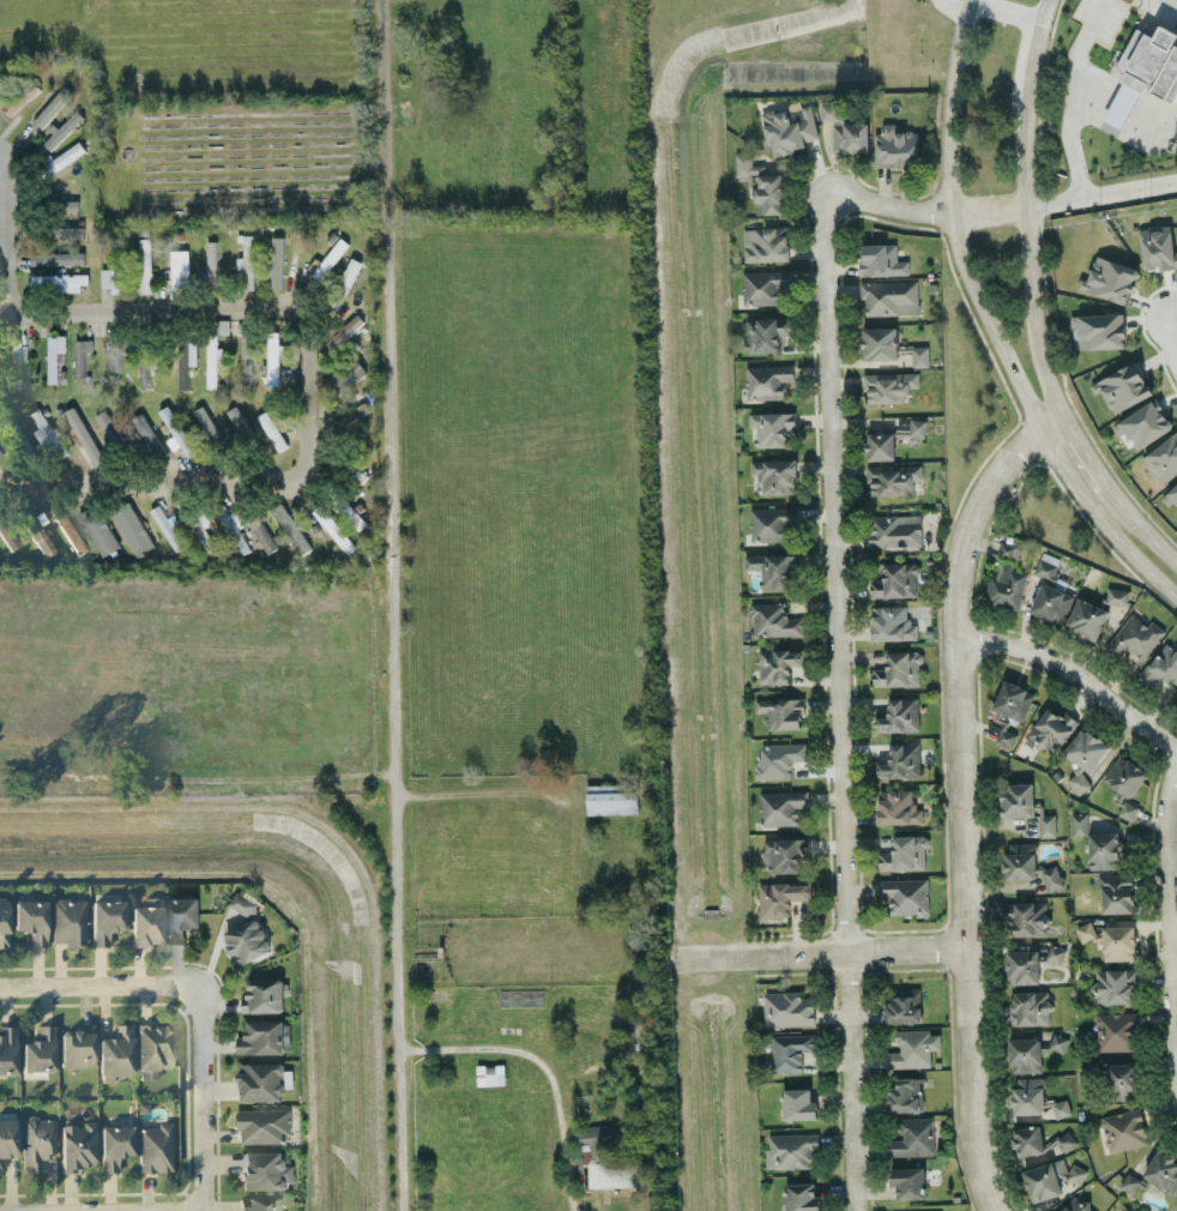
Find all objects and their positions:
road: (1172, 1)
road: (1004, 10)
road: (1044, 10)
road: (1031, 59)
building: (1145, 71)
road: (1094, 90)
road: (1121, 103)
building: (52, 107)
road: (1153, 119)
road: (1070, 121)
building: (845, 127)
building: (790, 128)
building: (62, 129)
building: (895, 145)
building: (65, 156)
building: (761, 185)
road: (1128, 187)
road: (11, 210)
building: (59, 231)
building: (766, 243)
building: (1157, 247)
building: (58, 258)
building: (330, 258)
building: (881, 259)
road: (1027, 259)
building: (247, 260)
building: (277, 261)
building: (211, 263)
building: (175, 264)
building: (145, 265)
building: (114, 267)
building: (348, 273)
building: (1110, 279)
building: (58, 281)
building: (763, 287)
building: (889, 296)
road: (990, 325)
building: (343, 330)
building: (1100, 331)
building: (765, 332)
road: (1175, 338)
building: (880, 342)
building: (117, 354)
building: (55, 355)
building: (82, 355)
building: (919, 355)
building: (14, 356)
building: (273, 357)
building: (212, 361)
building: (185, 362)
building: (149, 364)
building: (344, 375)
road: (312, 378)
building: (767, 380)
building: (889, 386)
building: (1122, 386)
building: (237, 420)
building: (1145, 423)
building: (772, 427)
building: (912, 428)
building: (272, 429)
building: (109, 430)
building: (47, 434)
building: (84, 434)
building: (17, 436)
building: (880, 441)
building: (1163, 458)
road: (1088, 459)
building: (774, 475)
building: (893, 478)
building: (1172, 494)
building: (772, 523)
building: (131, 526)
building: (167, 526)
building: (333, 528)
building: (98, 529)
building: (231, 529)
building: (894, 530)
building: (70, 532)
building: (38, 535)
road: (1147, 535)
building: (1007, 554)
building: (773, 568)
building: (895, 580)
building: (1006, 588)
building: (1050, 594)
building: (1117, 596)
road: (833, 602)
road: (393, 604)
building: (1086, 619)
building: (774, 620)
building: (892, 622)
building: (1134, 637)
building: (778, 664)
building: (1161, 665)
building: (899, 669)
road: (1073, 675)
building: (1013, 700)
building: (1176, 703)
building: (781, 712)
building: (900, 715)
building: (1052, 730)
building: (1006, 733)
building: (1086, 748)
building: (779, 759)
building: (900, 761)
road: (199, 775)
building: (1124, 776)
building: (1078, 781)
road: (960, 793)
road: (485, 797)
building: (611, 799)
building: (1016, 800)
building: (781, 807)
building: (897, 807)
building: (1079, 824)
building: (1046, 825)
building: (1103, 850)
building: (784, 852)
building: (905, 852)
building: (1028, 864)
building: (1116, 892)
building: (905, 894)
building: (780, 897)
building: (245, 903)
building: (181, 916)
building: (1028, 917)
building: (105, 920)
building: (145, 920)
building: (31, 921)
building: (68, 921)
building: (4, 922)
building: (1087, 932)
road: (1167, 933)
building: (247, 941)
building: (1118, 942)
road: (852, 952)
road: (711, 958)
building: (1031, 960)
road: (102, 982)
building: (1115, 986)
building: (264, 995)
building: (903, 1005)
building: (1030, 1007)
building: (787, 1008)
building: (1116, 1031)
building: (261, 1037)
building: (152, 1048)
building: (913, 1048)
building: (7, 1049)
building: (40, 1050)
building: (116, 1052)
building: (1025, 1054)
road: (544, 1067)
building: (490, 1074)
building: (261, 1080)
building: (1121, 1080)
building: (906, 1095)
road: (204, 1096)
building: (1036, 1098)
building: (798, 1104)
building: (264, 1125)
building: (1124, 1129)
building: (598, 1137)
building: (913, 1137)
building: (7, 1139)
building: (1028, 1139)
building: (1066, 1140)
building: (38, 1141)
building: (77, 1145)
building: (115, 1145)
building: (156, 1147)
building: (790, 1150)
building: (262, 1170)
building: (616, 1174)
building: (1154, 1174)
building: (1052, 1179)
building: (909, 1181)
building: (802, 1197)
building: (261, 1204)
building: (1076, 1205)
road: (144, 1210)

